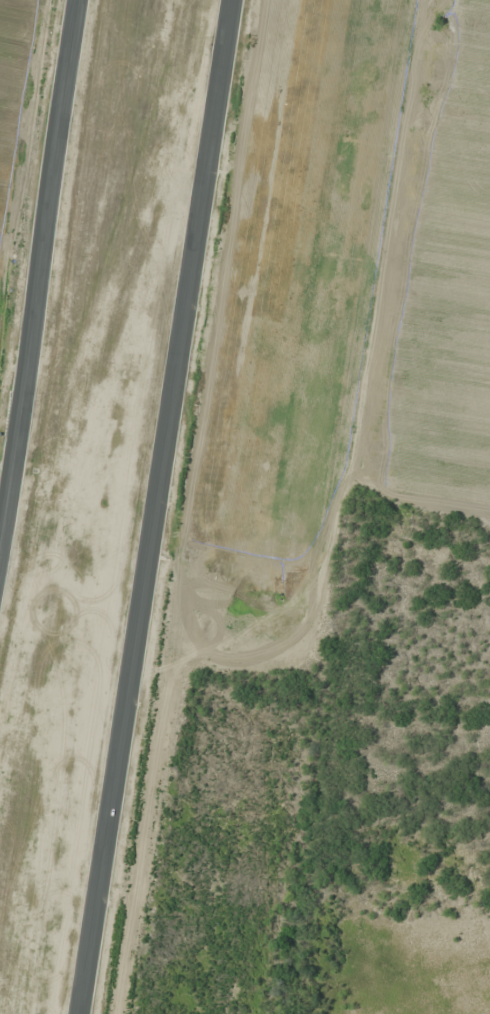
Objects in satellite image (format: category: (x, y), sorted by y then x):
road: (38, 272)
road: (153, 506)

